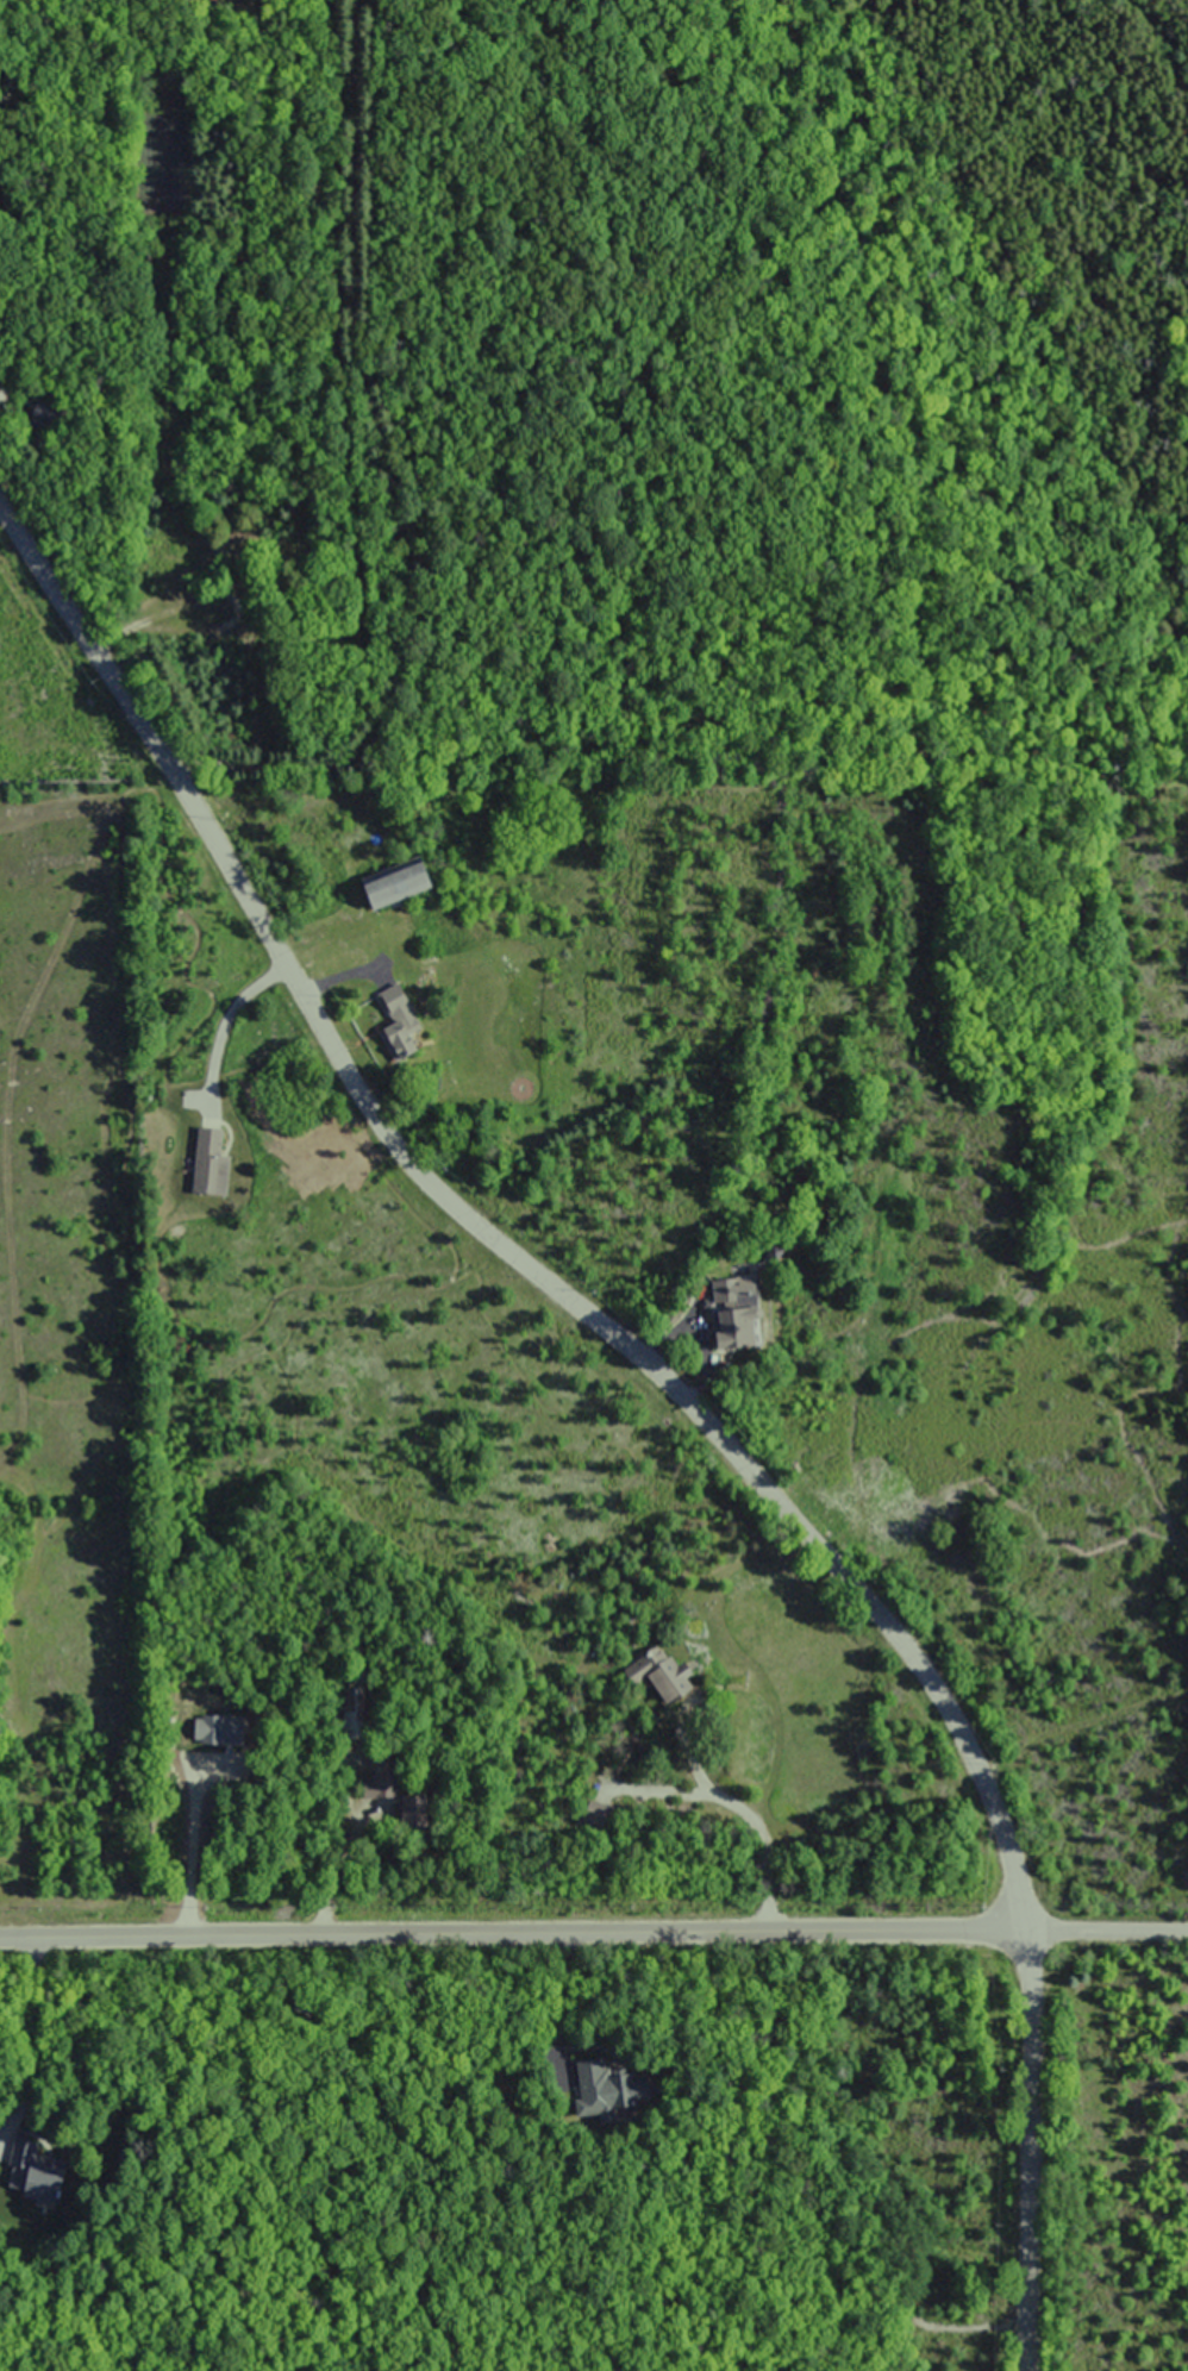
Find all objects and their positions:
building: (389, 882)
road: (227, 1019)
building: (393, 1022)
building: (206, 1159)
building: (719, 1296)
road: (664, 1378)
building: (656, 1675)
road: (750, 1812)
road: (331, 1878)
road: (593, 1933)
road: (30, 2034)
building: (612, 2088)
building: (30, 2164)
road: (850, 2248)

